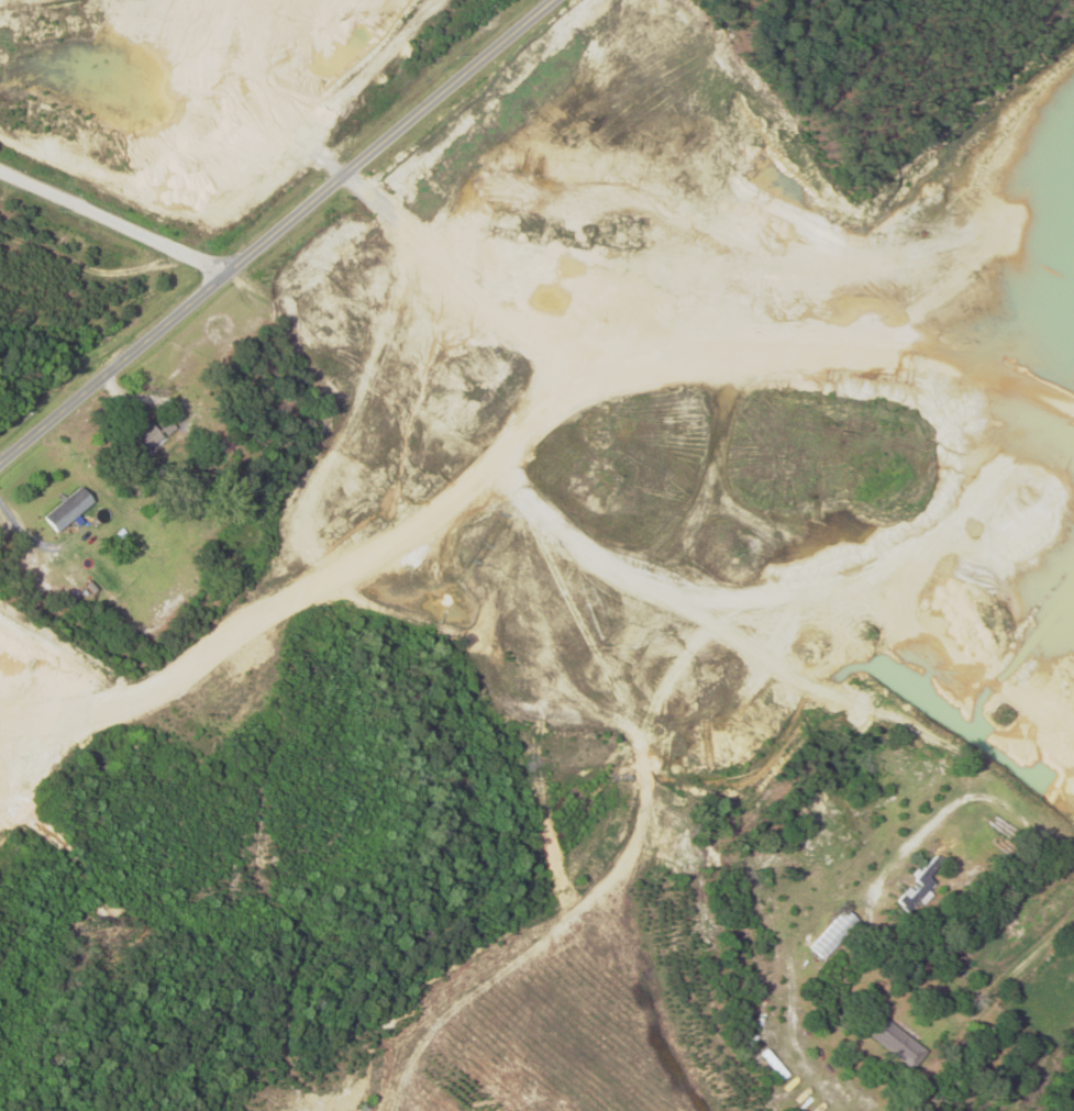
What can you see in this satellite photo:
road: (114, 220)
road: (277, 232)
road: (324, 319)
building: (141, 443)
building: (743, 493)
building: (68, 510)
road: (752, 604)
building: (921, 887)
building: (765, 919)
building: (835, 935)
road: (1025, 968)
building: (898, 1043)

